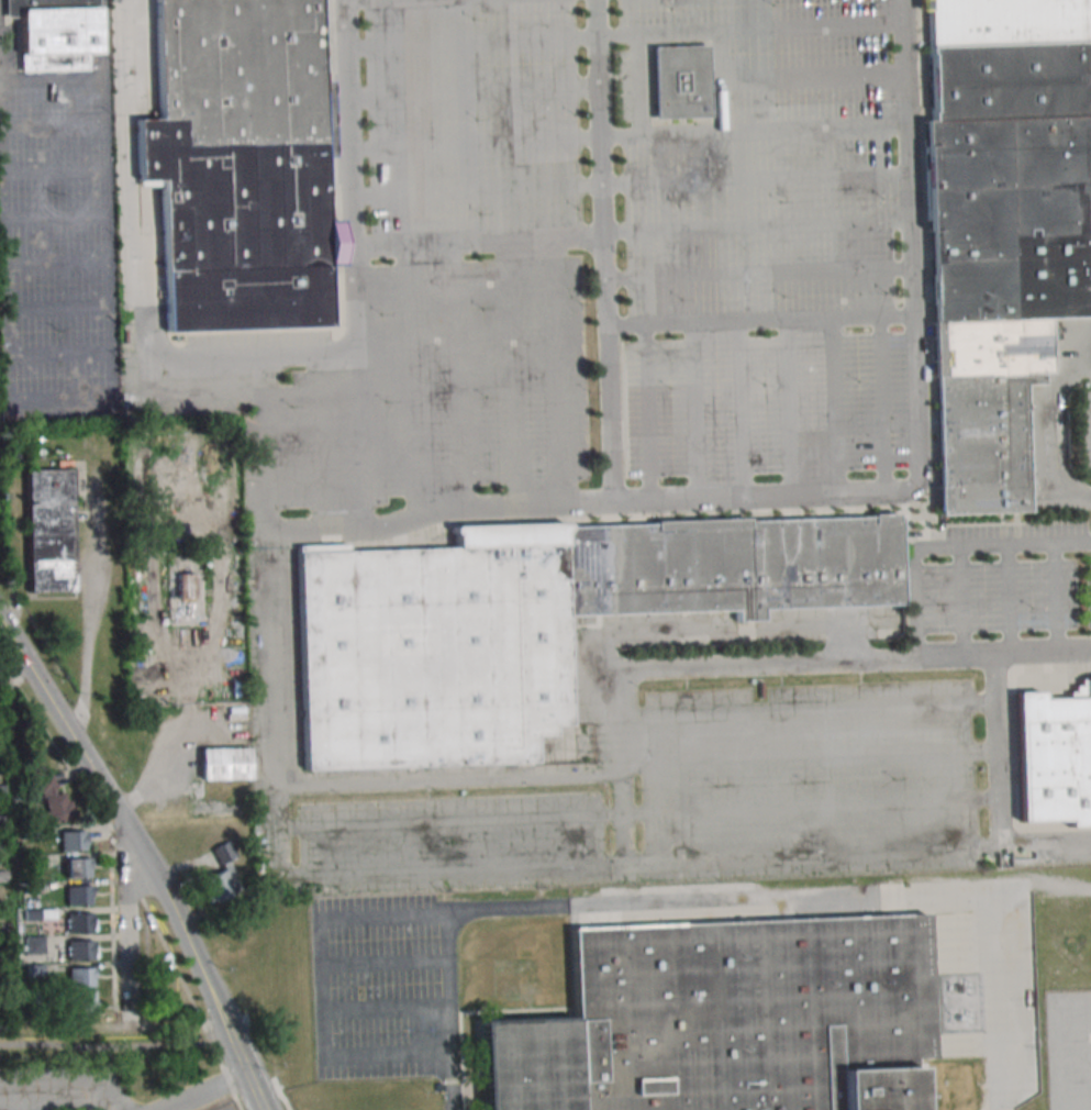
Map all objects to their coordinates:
building: (1006, 22)
road: (752, 26)
building: (53, 33)
road: (471, 44)
road: (815, 78)
road: (723, 80)
road: (64, 81)
building: (678, 81)
road: (638, 82)
building: (1011, 82)
parking lot: (632, 85)
road: (472, 93)
parking lot: (472, 116)
road: (346, 122)
road: (755, 132)
road: (474, 144)
parking lot: (767, 163)
building: (240, 166)
road: (131, 179)
road: (756, 180)
road: (476, 191)
road: (757, 227)
road: (478, 242)
road: (604, 251)
road: (759, 274)
building: (1002, 291)
road: (760, 322)
road: (1089, 348)
road: (334, 353)
road: (159, 358)
road: (557, 373)
road: (510, 374)
road: (458, 375)
road: (410, 380)
parking lot: (394, 387)
road: (356, 388)
parking lot: (764, 407)
road: (881, 408)
road: (833, 409)
road: (787, 410)
road: (738, 411)
road: (694, 412)
road: (645, 413)
road: (1058, 417)
parking lot: (1086, 429)
road: (833, 498)
road: (1079, 498)
building: (47, 531)
road: (945, 545)
building: (185, 585)
parking lot: (1000, 593)
road: (1053, 598)
road: (1007, 599)
road: (960, 601)
road: (89, 612)
building: (534, 625)
road: (843, 662)
road: (806, 709)
road: (55, 745)
road: (809, 753)
building: (224, 764)
building: (1050, 764)
road: (447, 775)
parking lot: (809, 780)
road: (999, 796)
building: (51, 798)
road: (637, 812)
road: (126, 825)
building: (71, 840)
parking lot: (453, 843)
road: (715, 859)
road: (127, 865)
building: (77, 867)
building: (221, 876)
road: (278, 878)
building: (78, 895)
road: (732, 901)
road: (126, 920)
building: (80, 922)
building: (34, 945)
building: (80, 950)
road: (385, 963)
road: (176, 969)
building: (80, 977)
road: (322, 986)
parking lot: (375, 987)
building: (81, 1002)
road: (386, 1009)
building: (725, 1020)
road: (104, 1043)
parking lot: (1068, 1048)
road: (225, 1075)
road: (247, 1076)
road: (205, 1091)
road: (450, 1095)
parking lot: (229, 1109)

